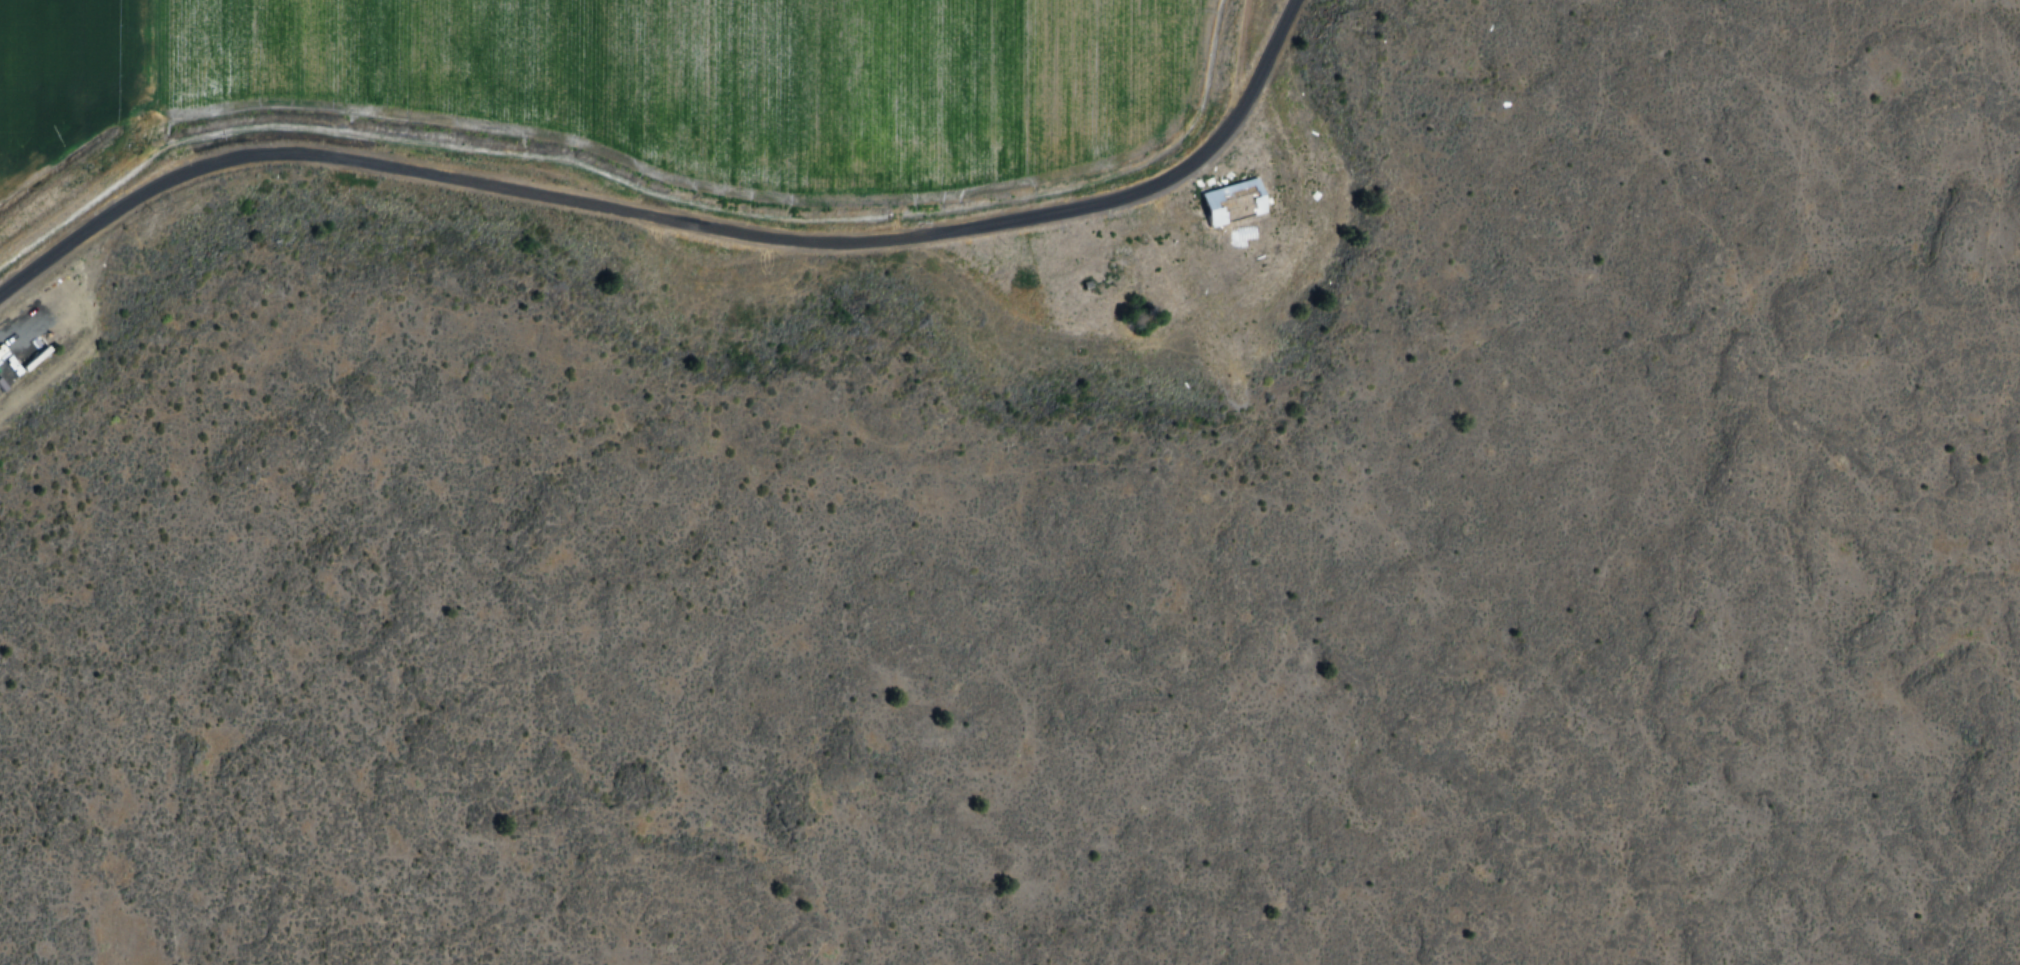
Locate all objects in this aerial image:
crop: (68, 77)
crop: (723, 83)
building: (1233, 201)
road: (681, 221)
road: (1200, 286)

